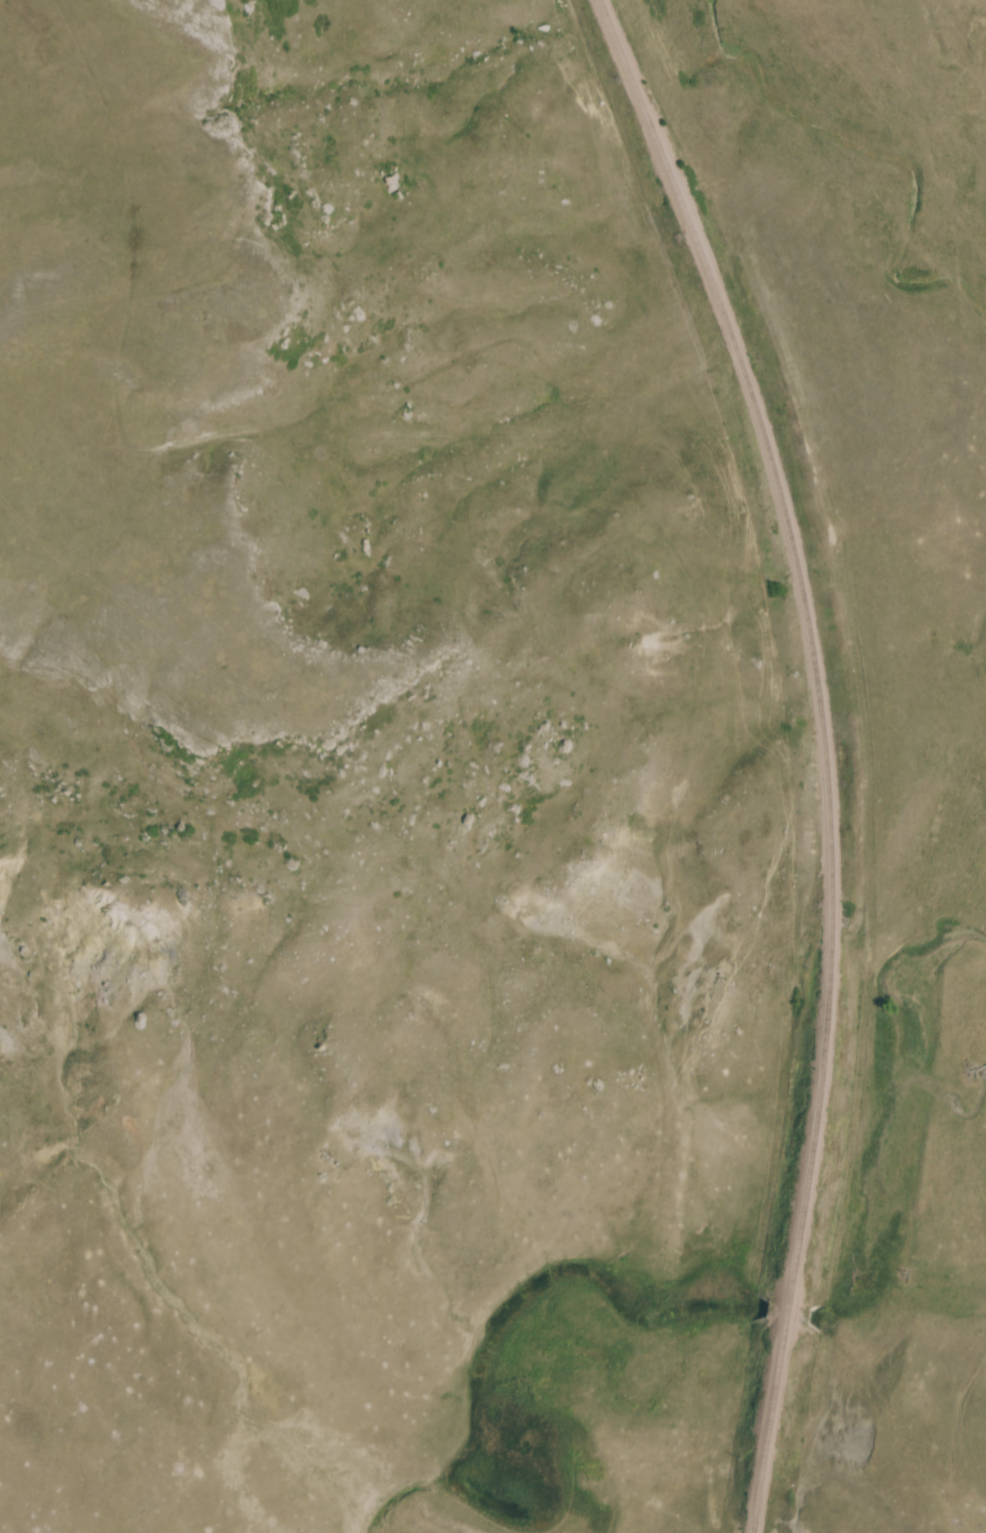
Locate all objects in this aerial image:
railway: (824, 751)

